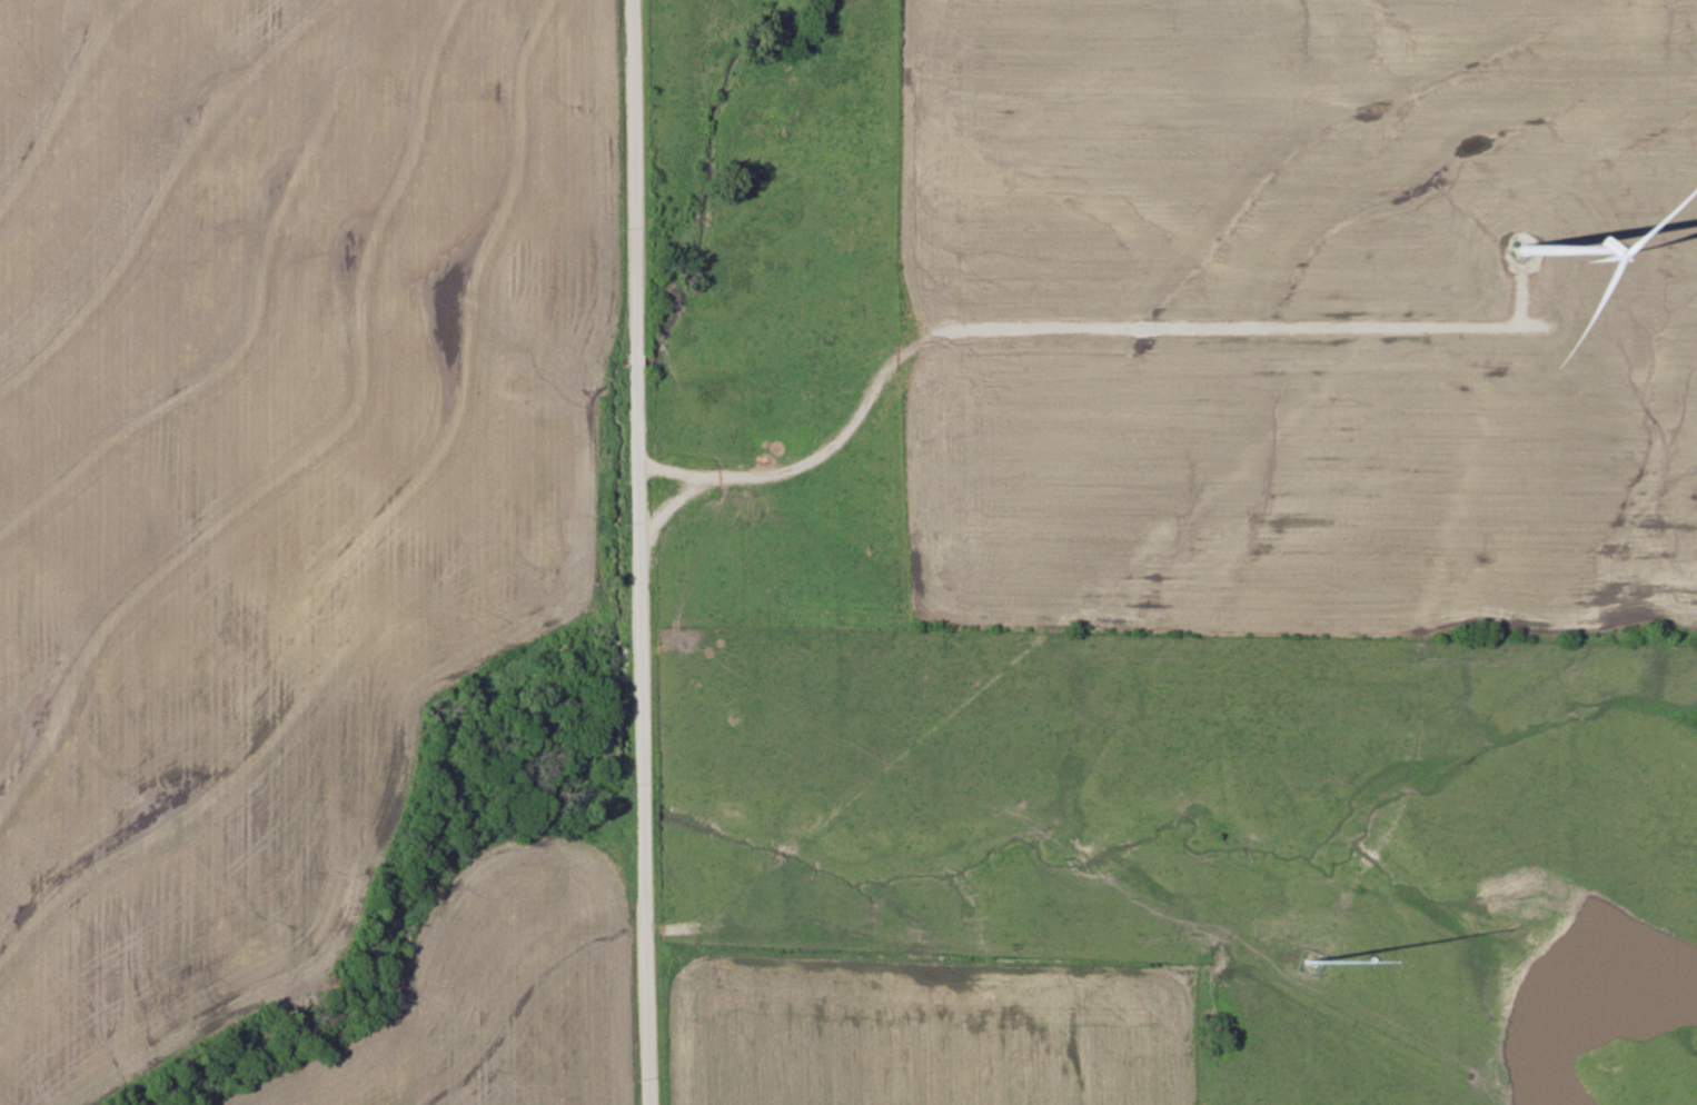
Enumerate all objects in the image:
wind turbine: (1516, 251)
road: (641, 552)

